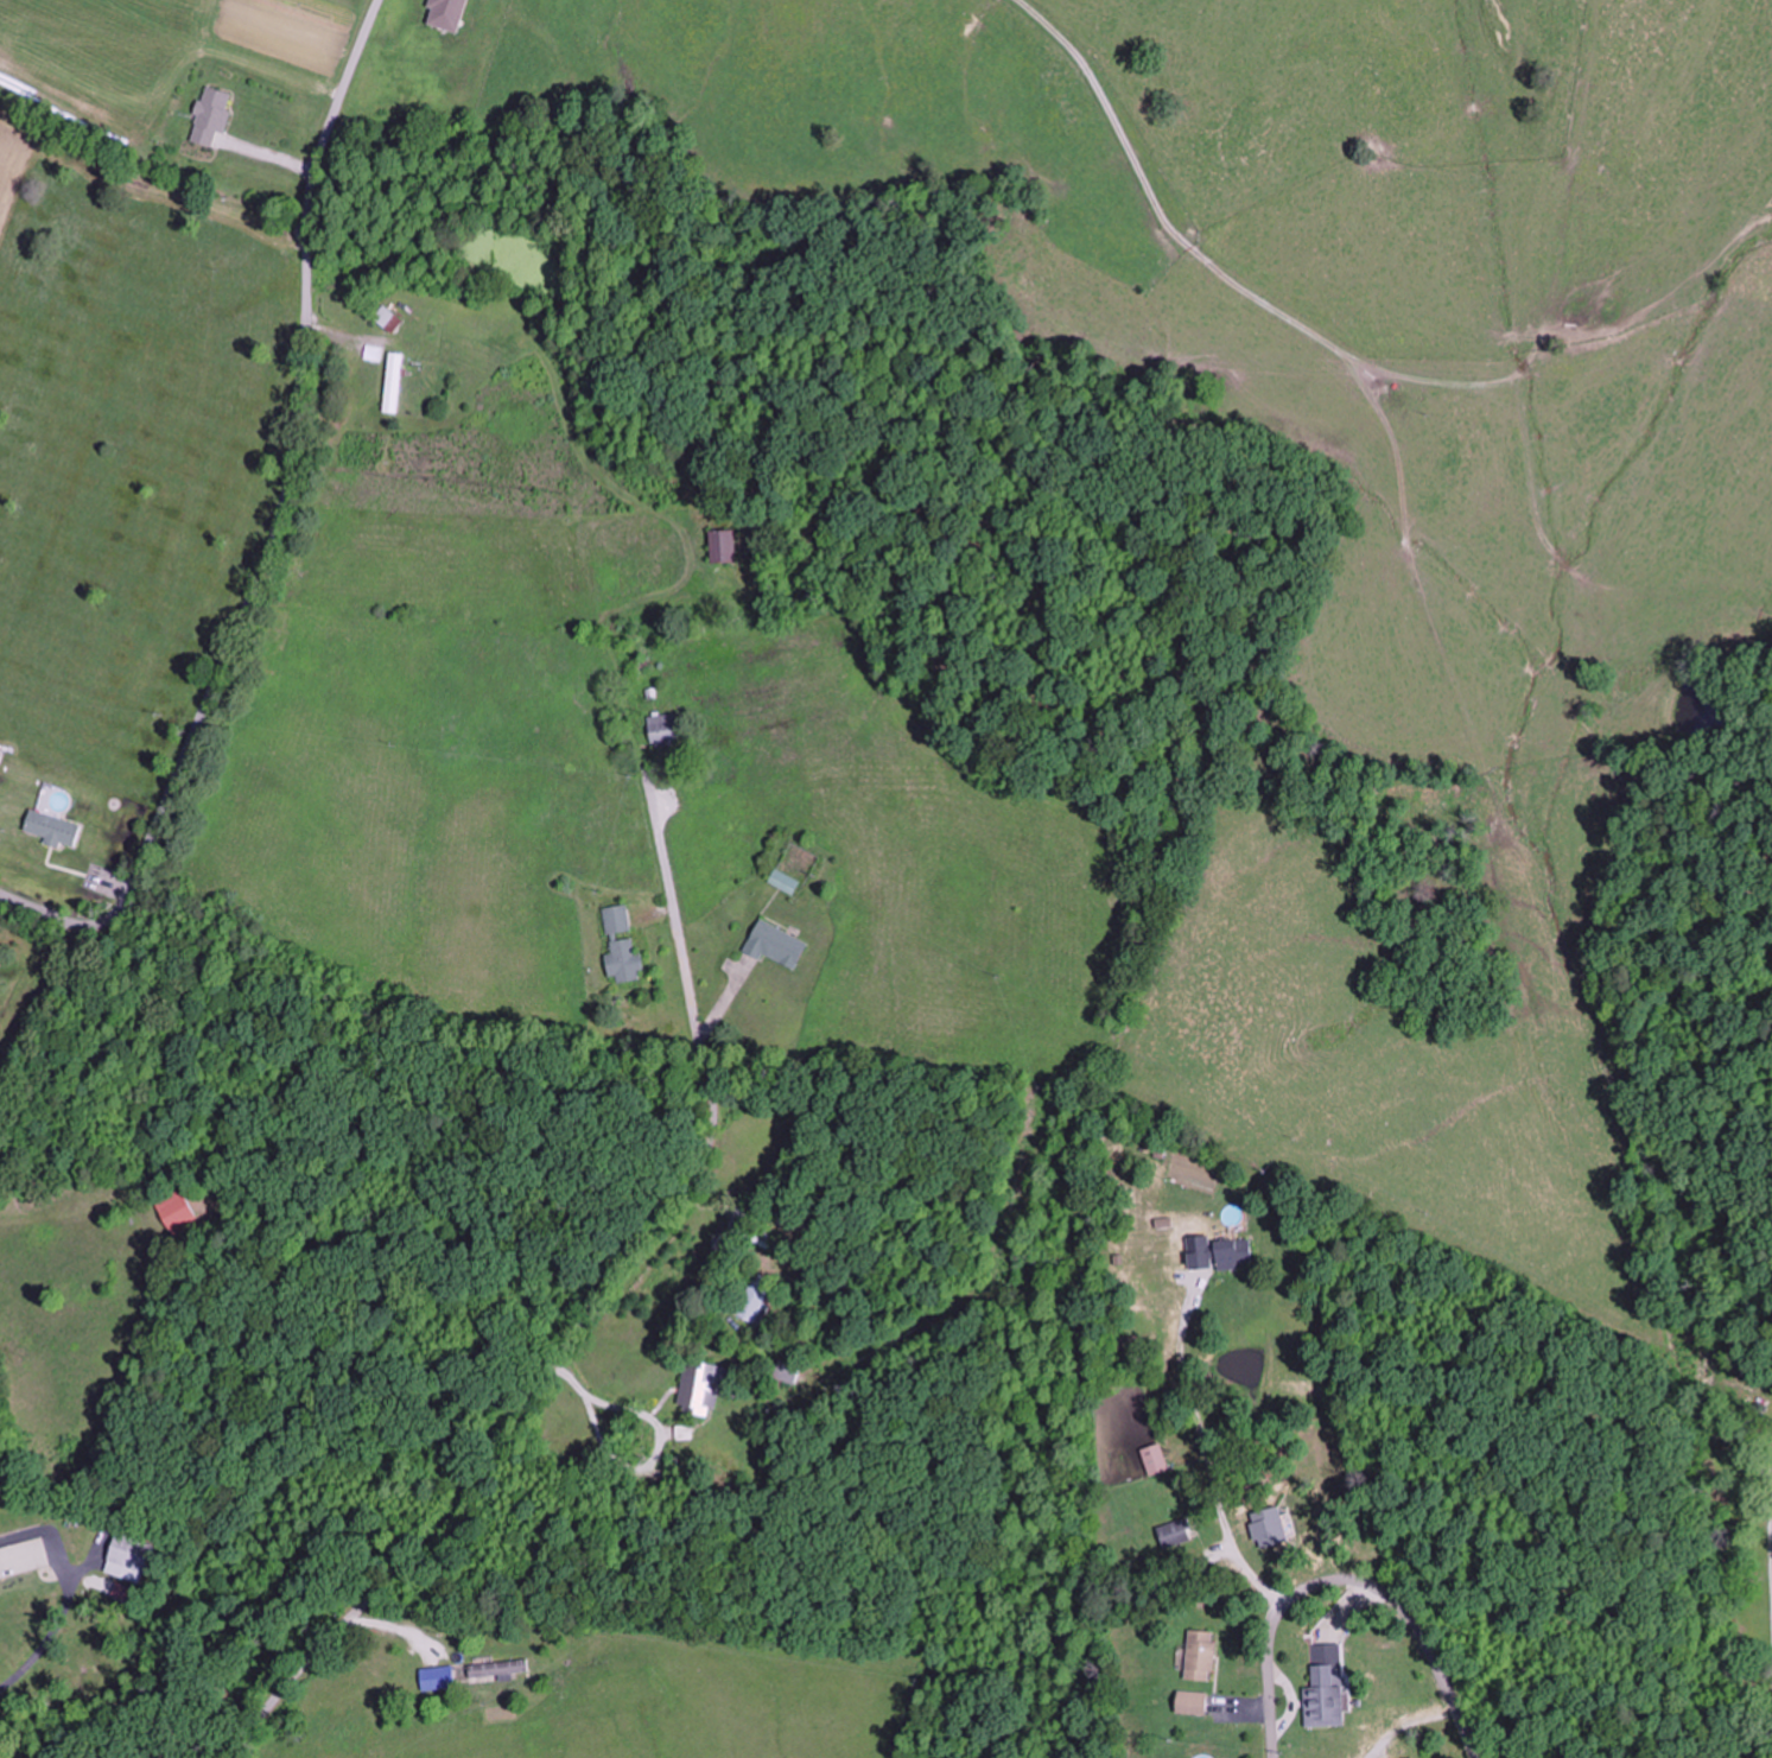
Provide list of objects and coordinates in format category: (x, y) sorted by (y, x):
building: (443, 14)
building: (208, 116)
building: (386, 318)
road: (1333, 347)
building: (393, 381)
road: (280, 531)
building: (722, 545)
building: (663, 729)
building: (50, 829)
building: (783, 882)
building: (622, 945)
building: (774, 945)
building: (179, 1214)
building: (1230, 1252)
building: (757, 1299)
road: (591, 1303)
building: (699, 1389)
building: (1152, 1460)
building: (1173, 1534)
building: (128, 1560)
road: (1349, 1579)
building: (1199, 1656)
building: (464, 1675)
building: (1321, 1696)
building: (1188, 1703)

